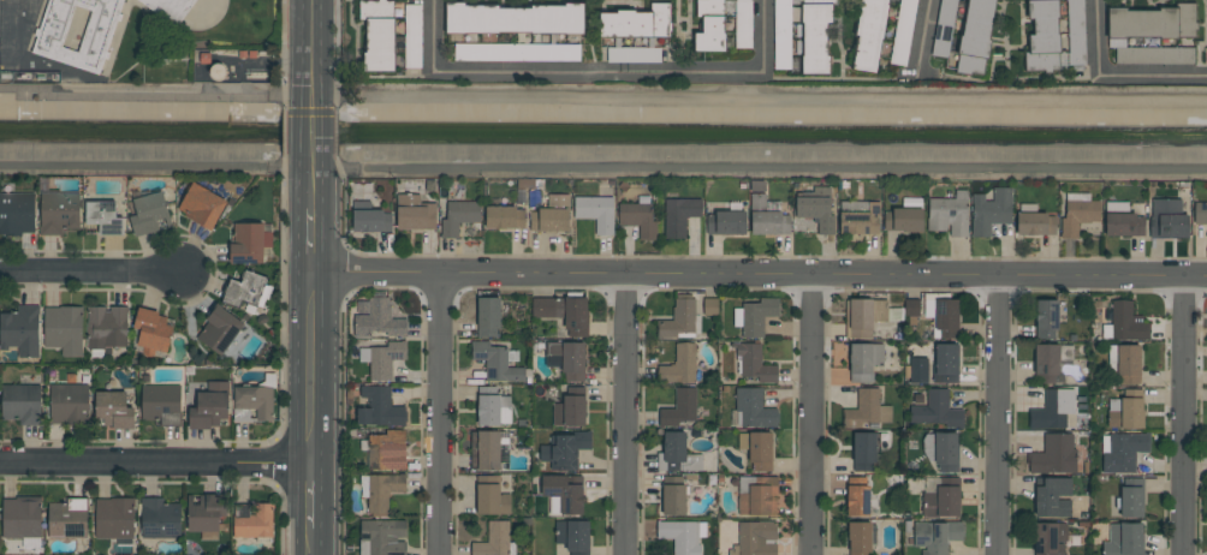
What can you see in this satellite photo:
building: (170, 8)
building: (513, 19)
building: (636, 23)
building: (1152, 23)
building: (743, 24)
parking lot: (0, 26)
building: (709, 26)
building: (943, 28)
building: (903, 31)
building: (869, 32)
road: (924, 32)
building: (377, 35)
building: (783, 35)
building: (815, 35)
building: (412, 36)
building: (1041, 36)
building: (974, 37)
building: (95, 41)
road: (313, 47)
building: (517, 52)
building: (634, 55)
building: (1154, 55)
building: (1206, 58)
road: (600, 71)
road: (1116, 73)
road: (602, 95)
road: (313, 126)
building: (202, 205)
building: (991, 210)
building: (595, 211)
building: (17, 213)
building: (58, 213)
building: (415, 213)
building: (815, 213)
building: (149, 214)
building: (1200, 214)
building: (552, 215)
building: (947, 215)
building: (458, 216)
building: (679, 216)
building: (1078, 216)
building: (103, 217)
building: (637, 217)
building: (369, 219)
building: (504, 219)
building: (767, 219)
building: (861, 220)
building: (903, 220)
building: (1167, 220)
building: (726, 223)
building: (1035, 223)
building: (1124, 225)
building: (246, 243)
road: (88, 270)
road: (762, 274)
building: (243, 290)
building: (710, 306)
building: (911, 308)
building: (563, 311)
building: (886, 312)
building: (488, 316)
building: (757, 316)
building: (861, 318)
building: (946, 318)
building: (1046, 318)
building: (678, 320)
building: (379, 321)
building: (1126, 323)
building: (106, 327)
building: (64, 329)
building: (20, 330)
building: (219, 330)
building: (151, 332)
road: (317, 357)
building: (386, 359)
building: (569, 359)
building: (864, 360)
building: (495, 363)
building: (755, 363)
building: (1046, 363)
building: (945, 364)
building: (1129, 364)
building: (679, 365)
building: (254, 401)
building: (20, 404)
building: (70, 404)
building: (160, 404)
building: (209, 406)
building: (488, 406)
building: (380, 408)
building: (680, 408)
building: (753, 408)
building: (863, 408)
building: (113, 410)
building: (1053, 410)
building: (569, 411)
building: (937, 411)
building: (1128, 413)
road: (439, 414)
road: (625, 414)
road: (810, 414)
road: (1182, 414)
road: (997, 416)
building: (386, 450)
building: (488, 450)
building: (564, 450)
building: (760, 450)
building: (945, 450)
building: (863, 452)
building: (1124, 452)
building: (678, 454)
building: (1053, 455)
road: (157, 462)
building: (382, 491)
building: (564, 494)
building: (490, 496)
building: (672, 496)
building: (857, 496)
building: (759, 497)
building: (1052, 497)
building: (941, 502)
building: (1131, 502)
building: (206, 513)
building: (20, 517)
building: (67, 518)
building: (114, 518)
building: (159, 520)
building: (255, 523)
building: (383, 536)
building: (572, 536)
building: (680, 536)
building: (937, 536)
building: (756, 538)
building: (858, 538)
building: (1048, 538)
building: (493, 539)
building: (1123, 539)

